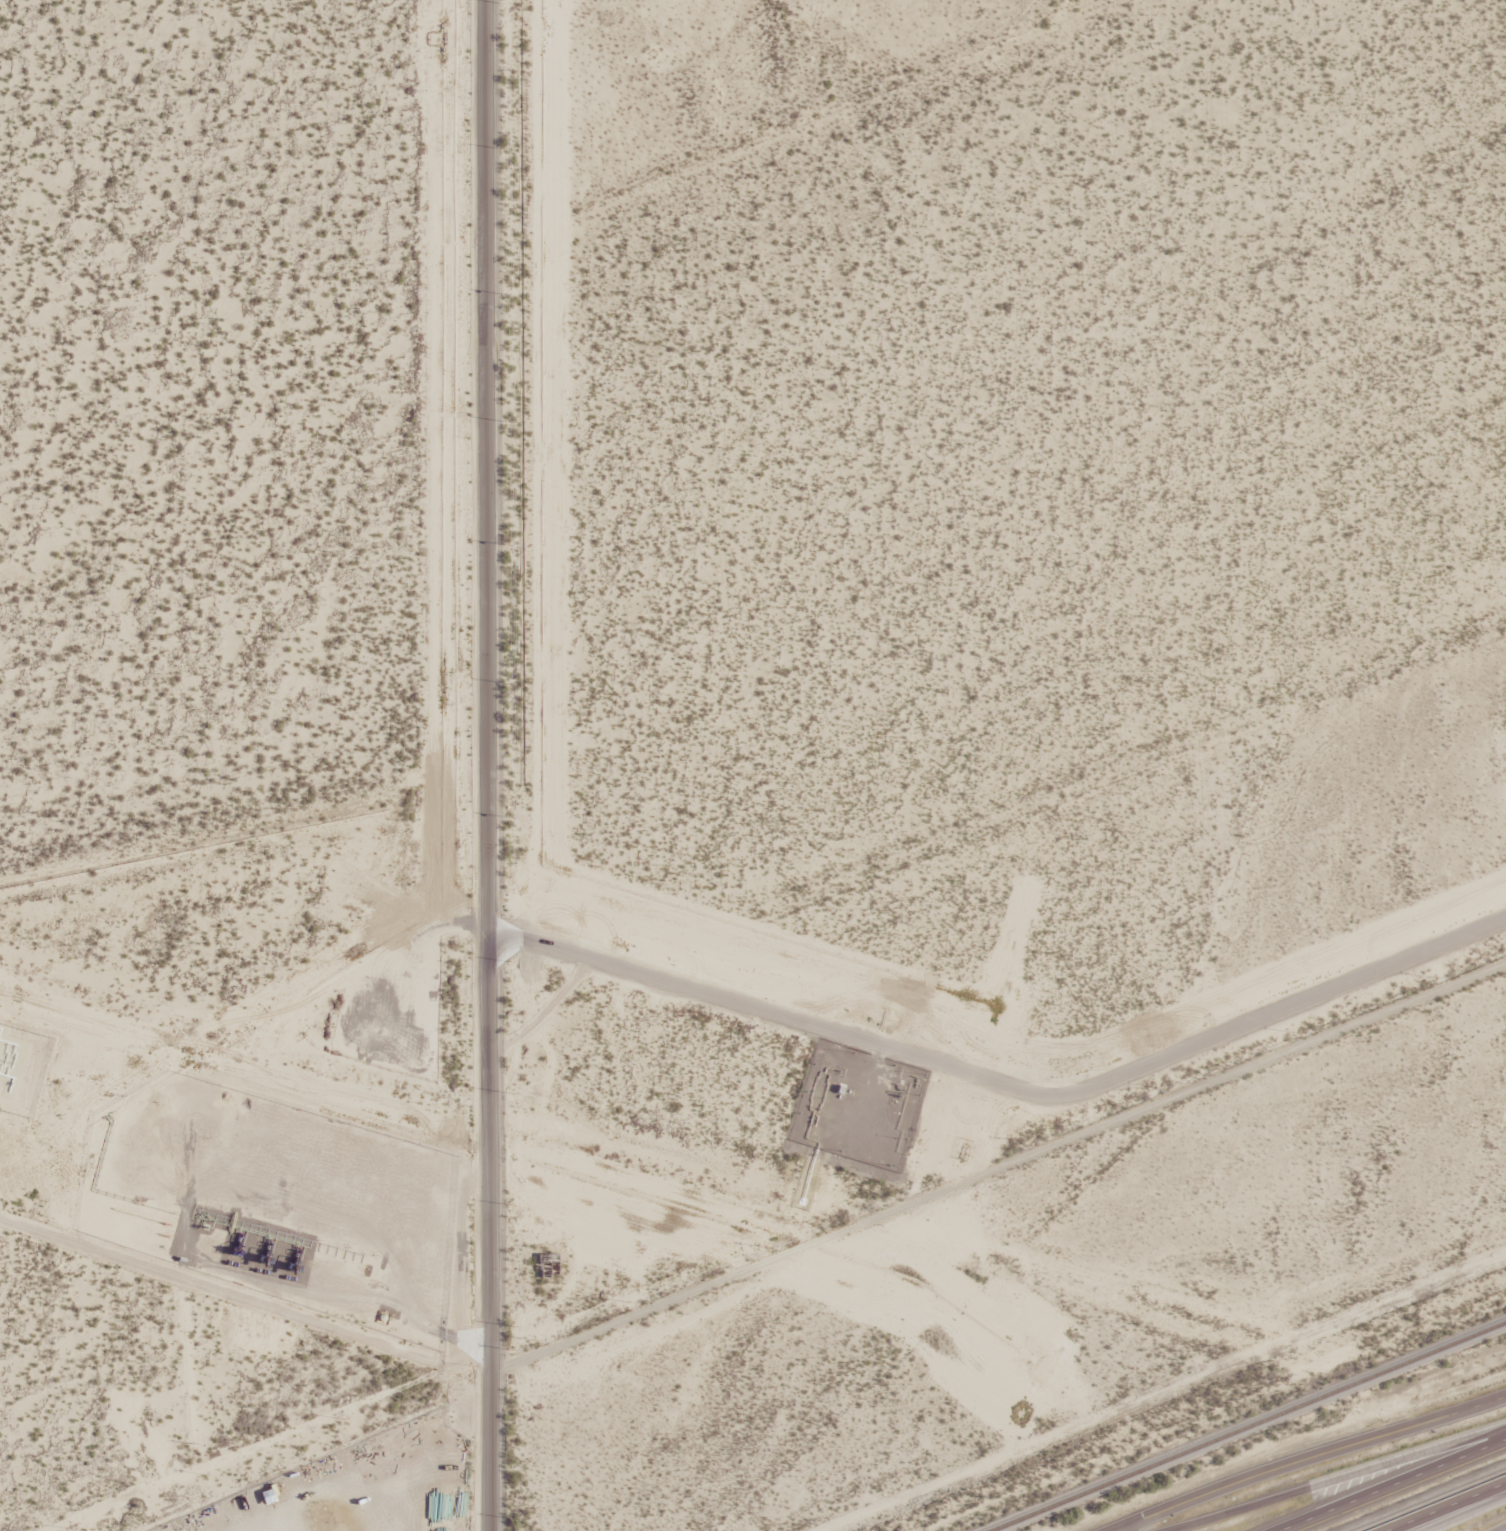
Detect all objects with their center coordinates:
road: (479, 765)
road: (1001, 1091)
railway: (1252, 1428)
road: (1308, 1458)
road: (387, 1465)
road: (1341, 1478)
road: (1392, 1485)
road: (1446, 1506)
road: (1465, 1513)

